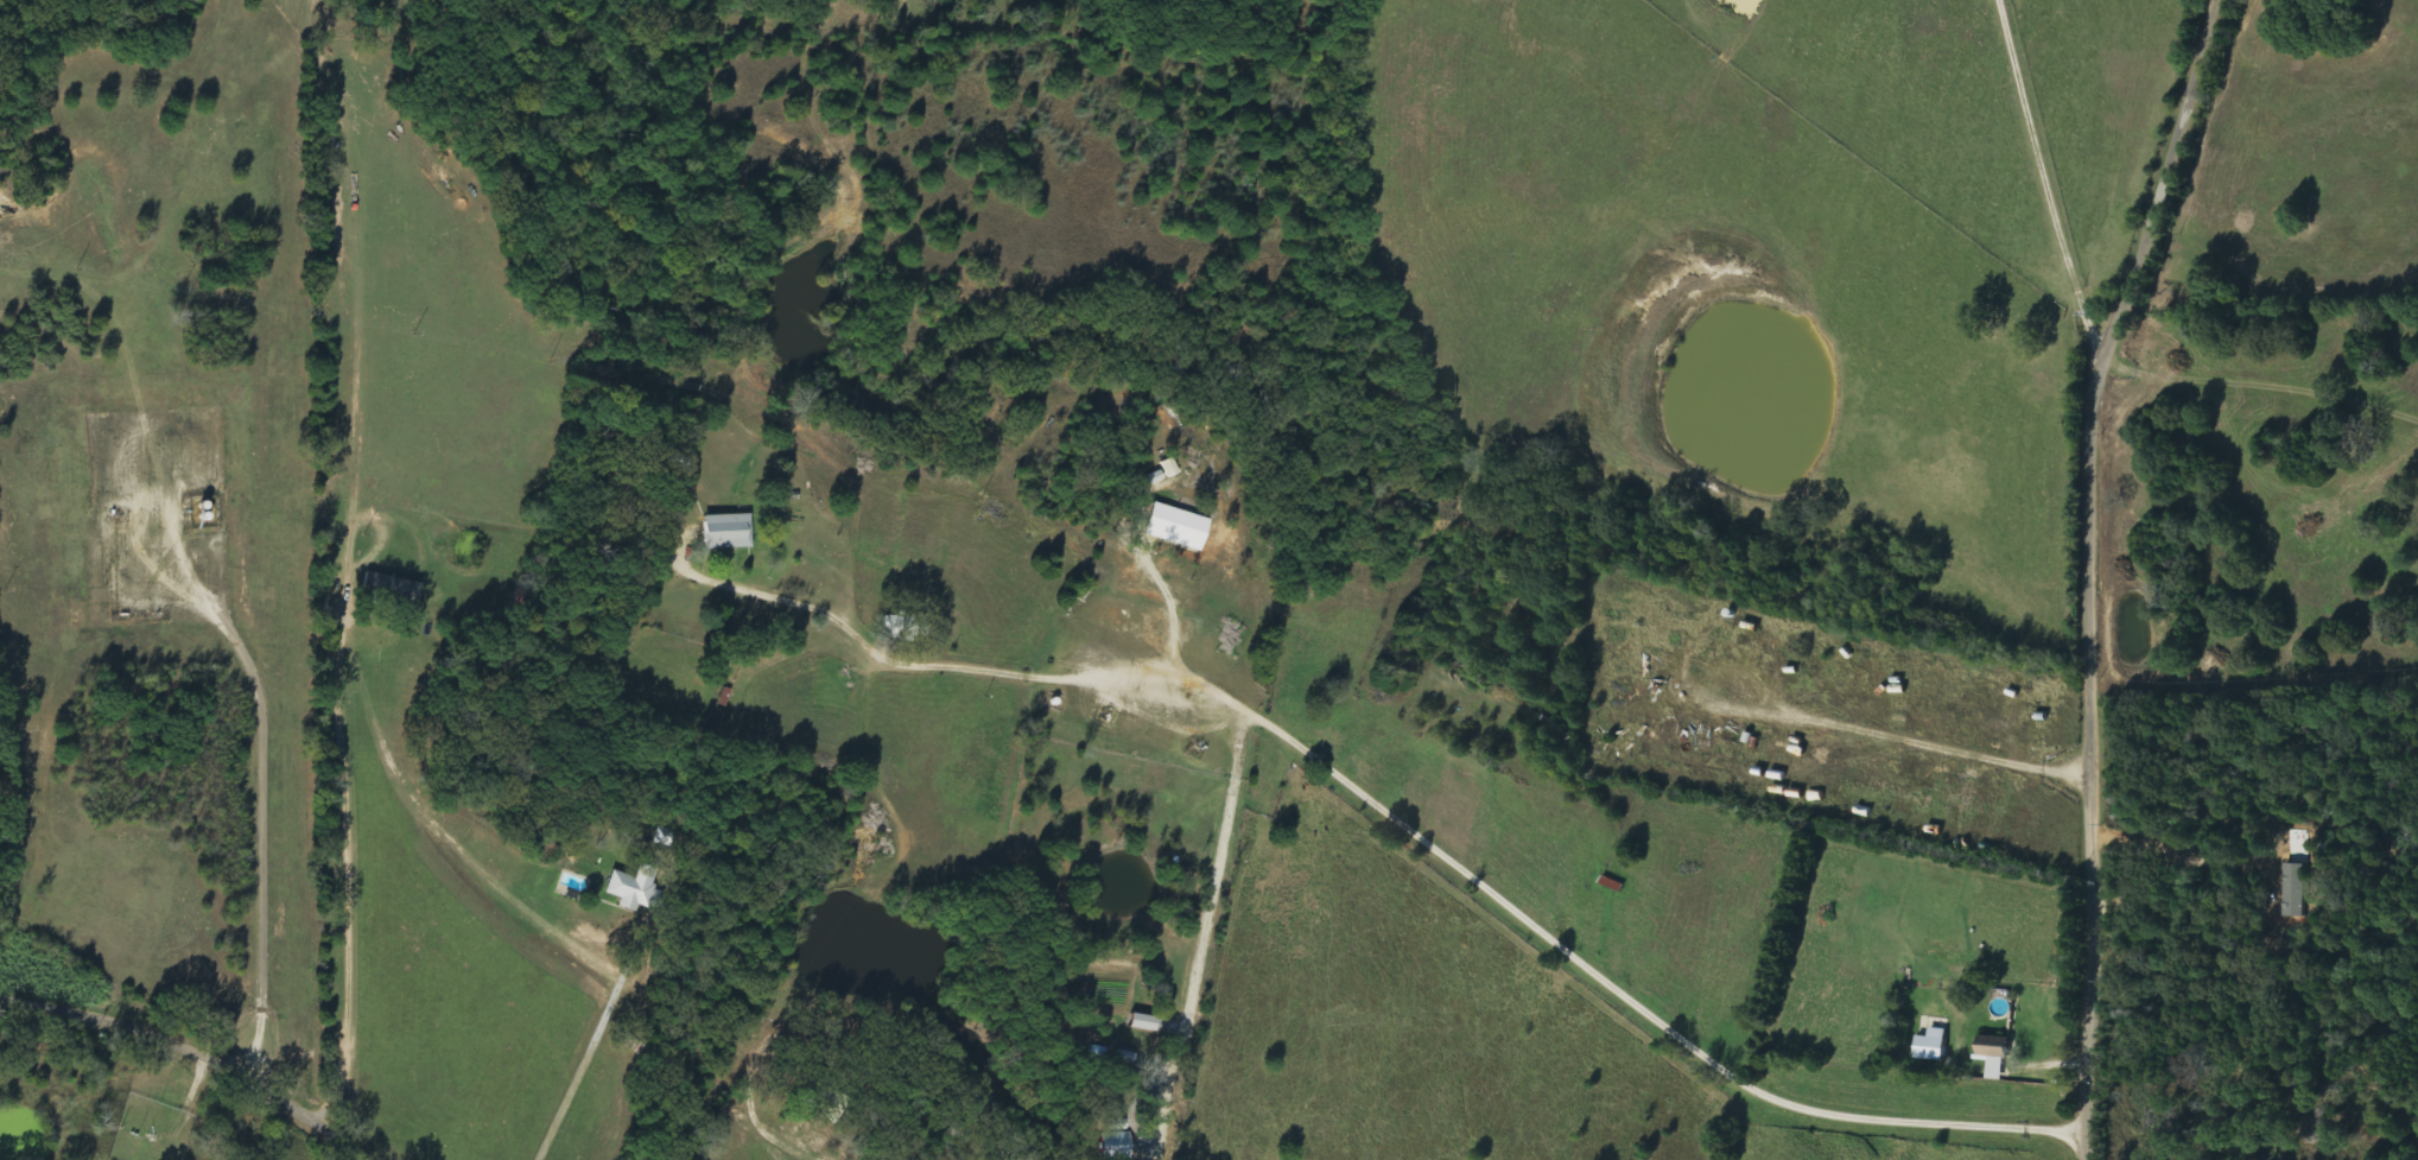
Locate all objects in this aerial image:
building: (1170, 468)
building: (1178, 527)
building: (729, 532)
road: (2089, 571)
building: (391, 594)
building: (907, 628)
building: (637, 889)
building: (1935, 1047)
road: (193, 1052)
building: (1998, 1056)
building: (1118, 1147)

